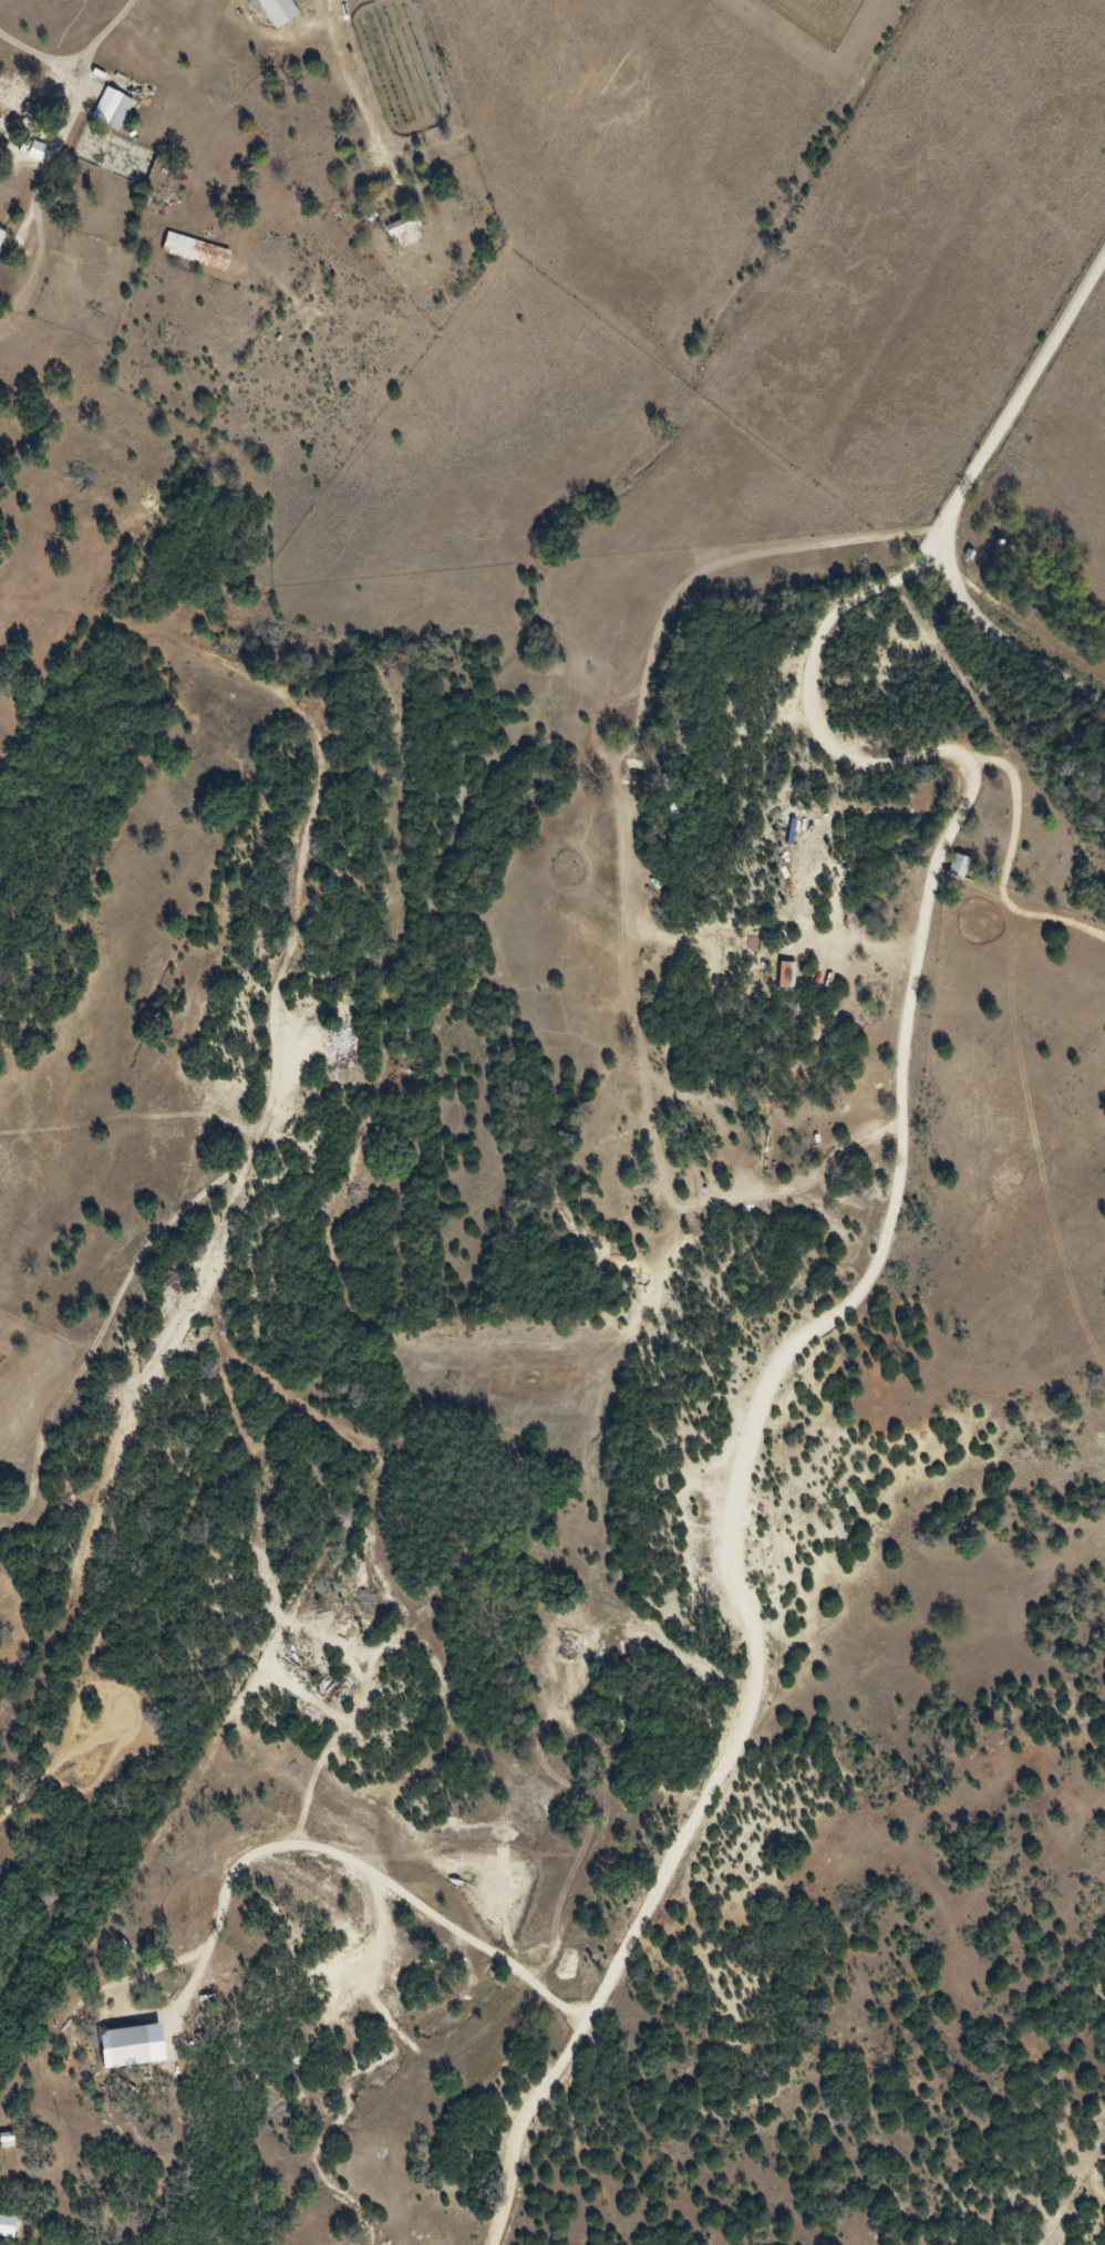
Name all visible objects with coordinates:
building: (268, 14)
road: (79, 63)
building: (8, 94)
road: (366, 110)
building: (104, 115)
building: (3, 122)
building: (397, 239)
building: (188, 258)
road: (1021, 400)
road: (1000, 642)
building: (950, 872)
road: (829, 1327)
road: (362, 1865)
building: (118, 2053)

